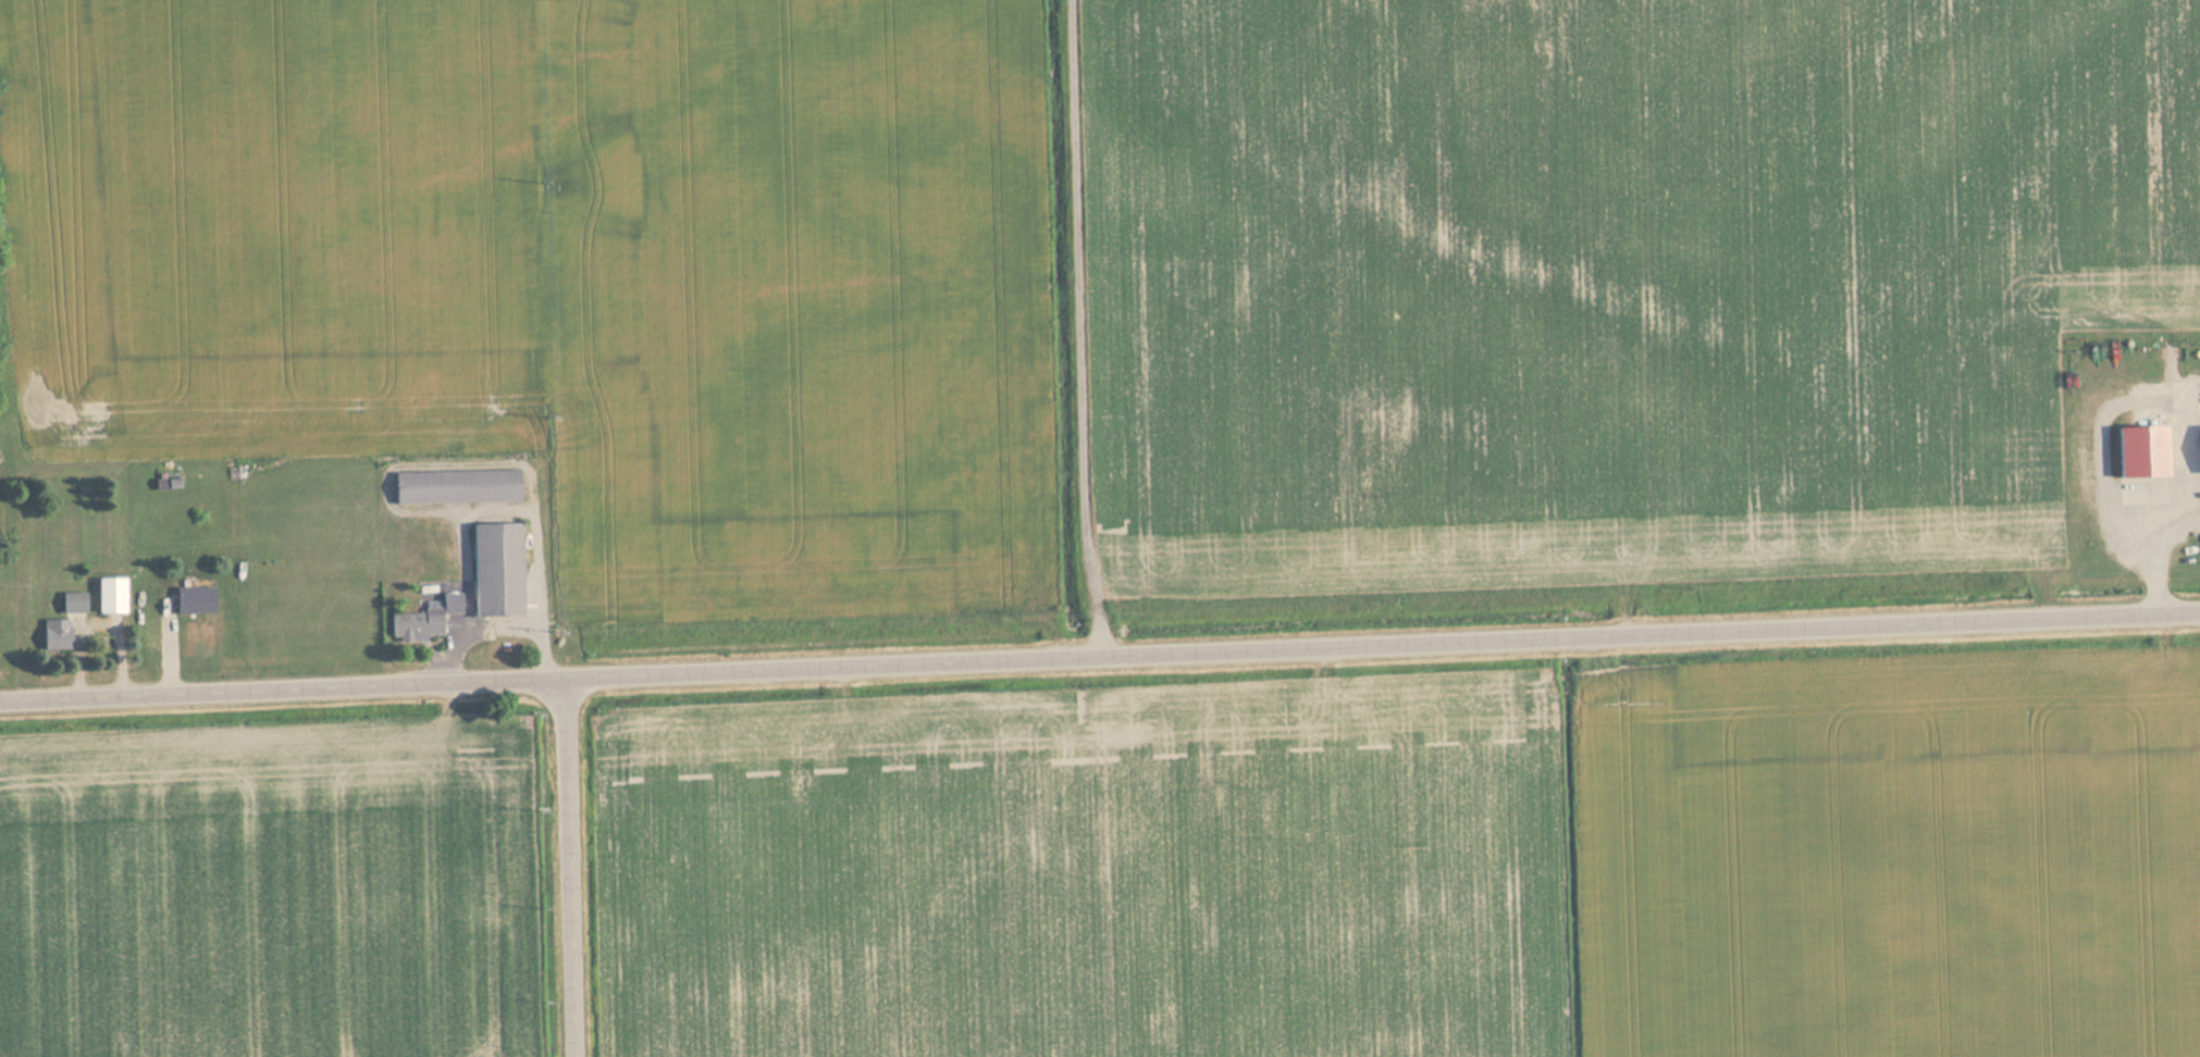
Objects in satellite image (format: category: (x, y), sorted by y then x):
park: (7, 333)
building: (2141, 451)
building: (457, 486)
building: (497, 569)
building: (111, 595)
building: (194, 600)
building: (74, 601)
building: (424, 618)
building: (57, 635)
road: (1382, 642)
road: (283, 687)
road: (570, 867)

